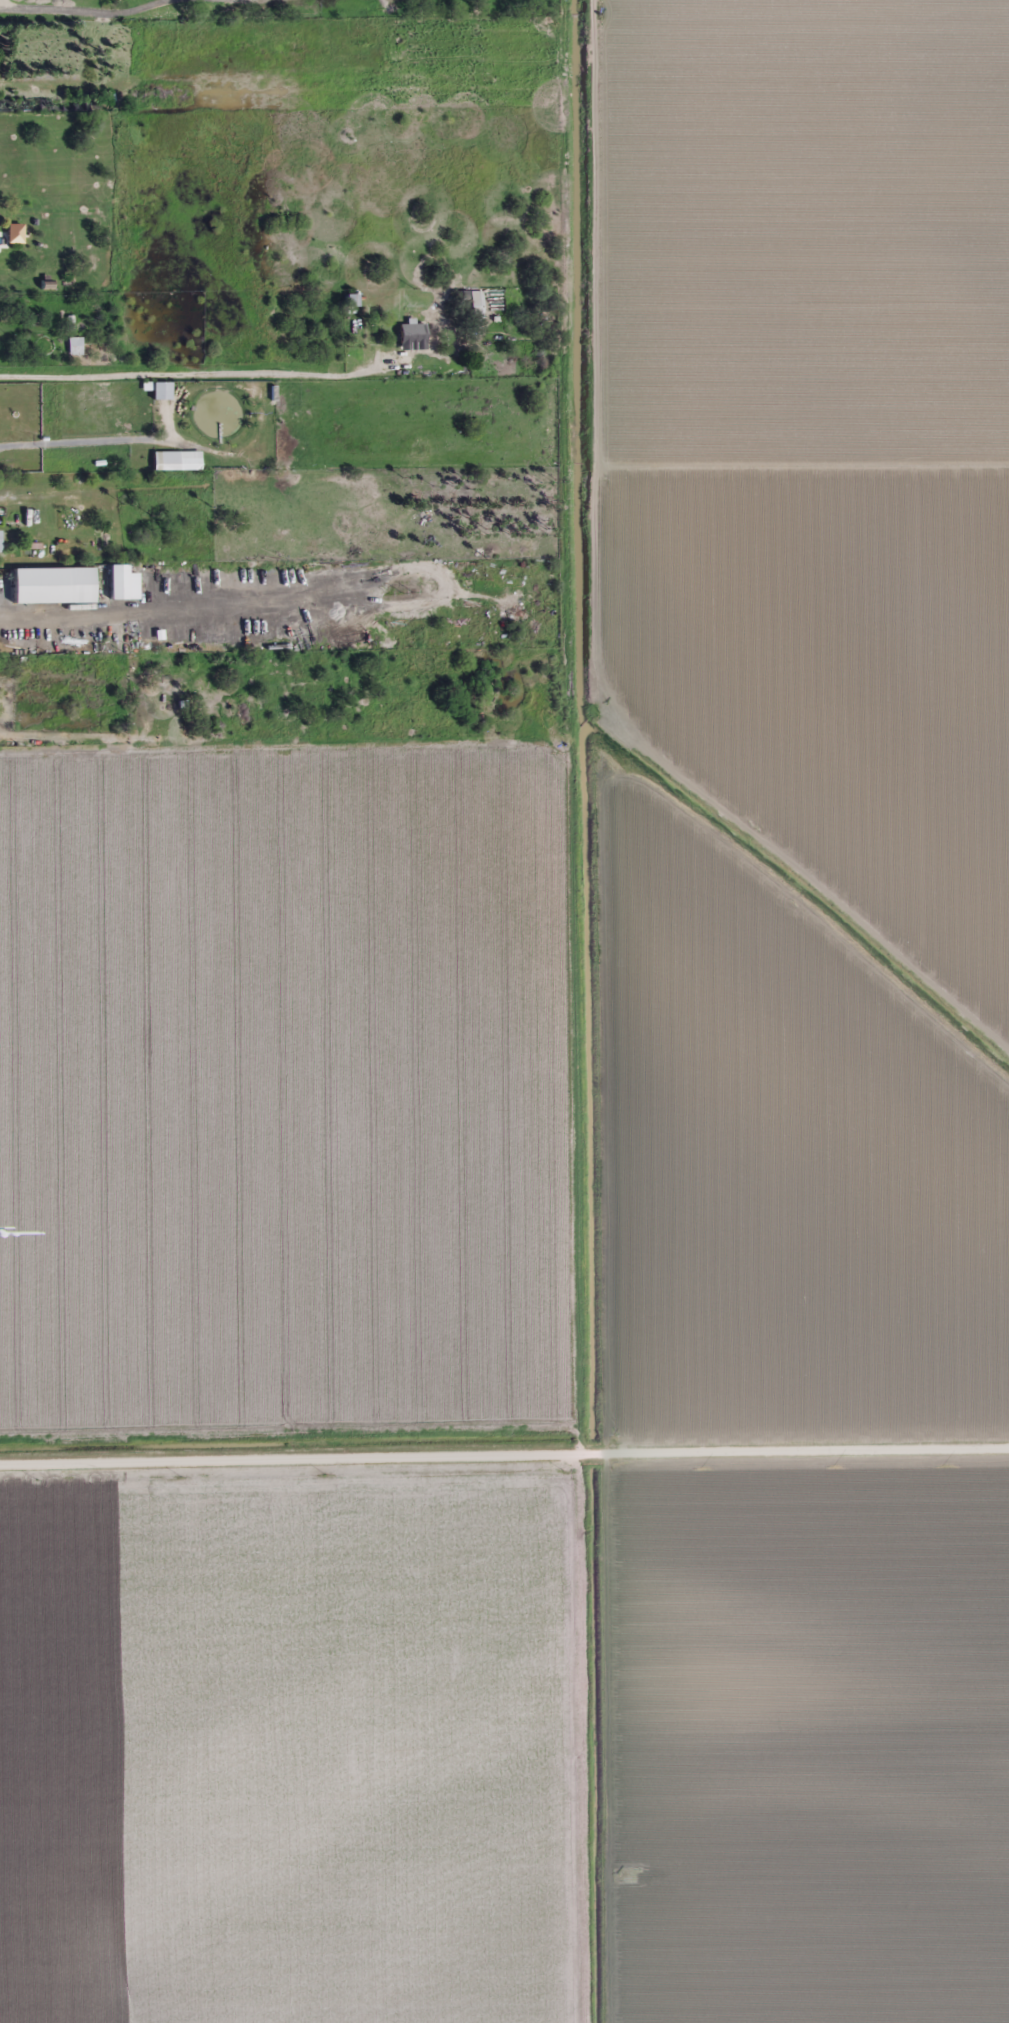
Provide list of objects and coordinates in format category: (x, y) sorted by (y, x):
building: (412, 337)
building: (75, 346)
road: (178, 381)
building: (0, 540)
road: (86, 735)
road: (504, 1456)

